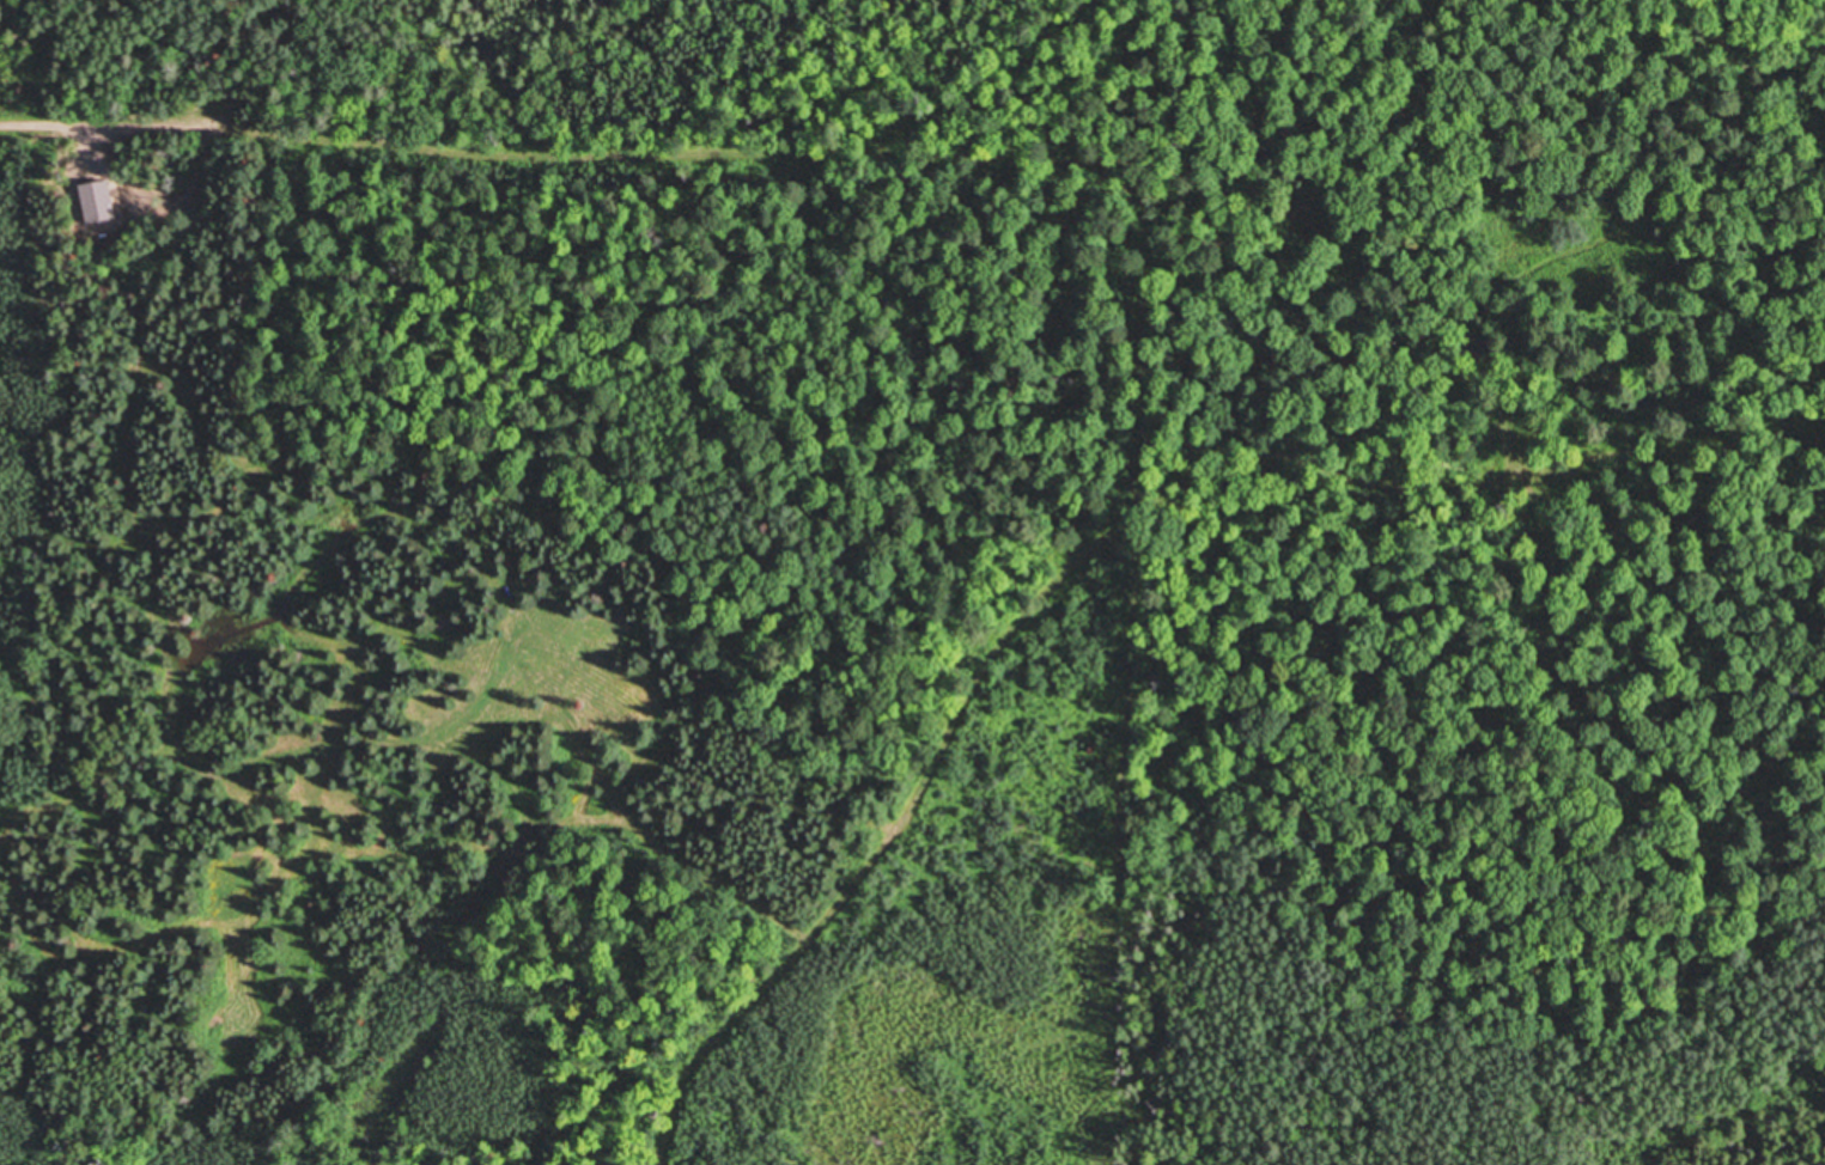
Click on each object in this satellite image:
road: (103, 126)

